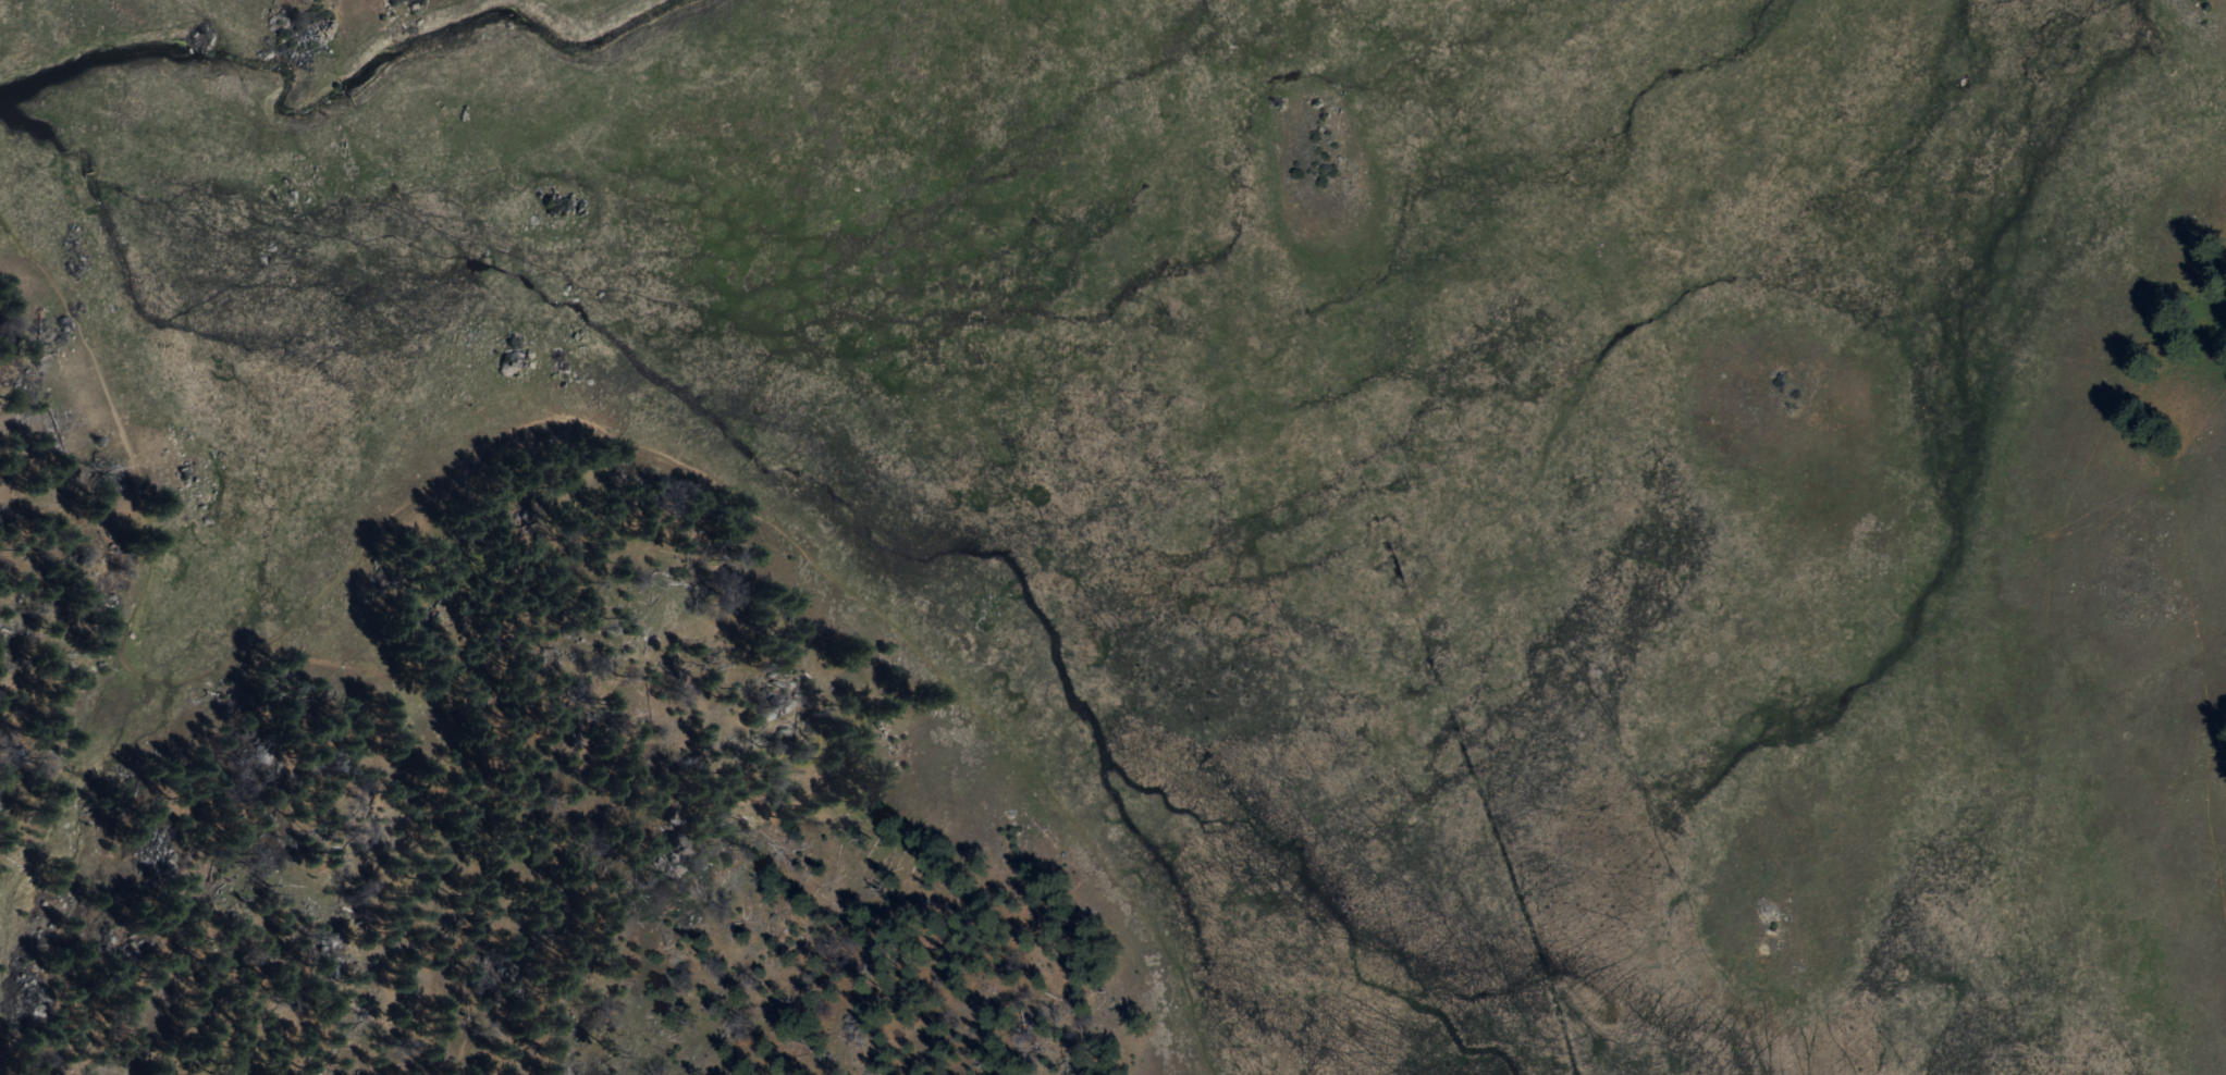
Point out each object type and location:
road: (115, 428)
road: (737, 509)
road: (2197, 835)
road: (475, 879)

